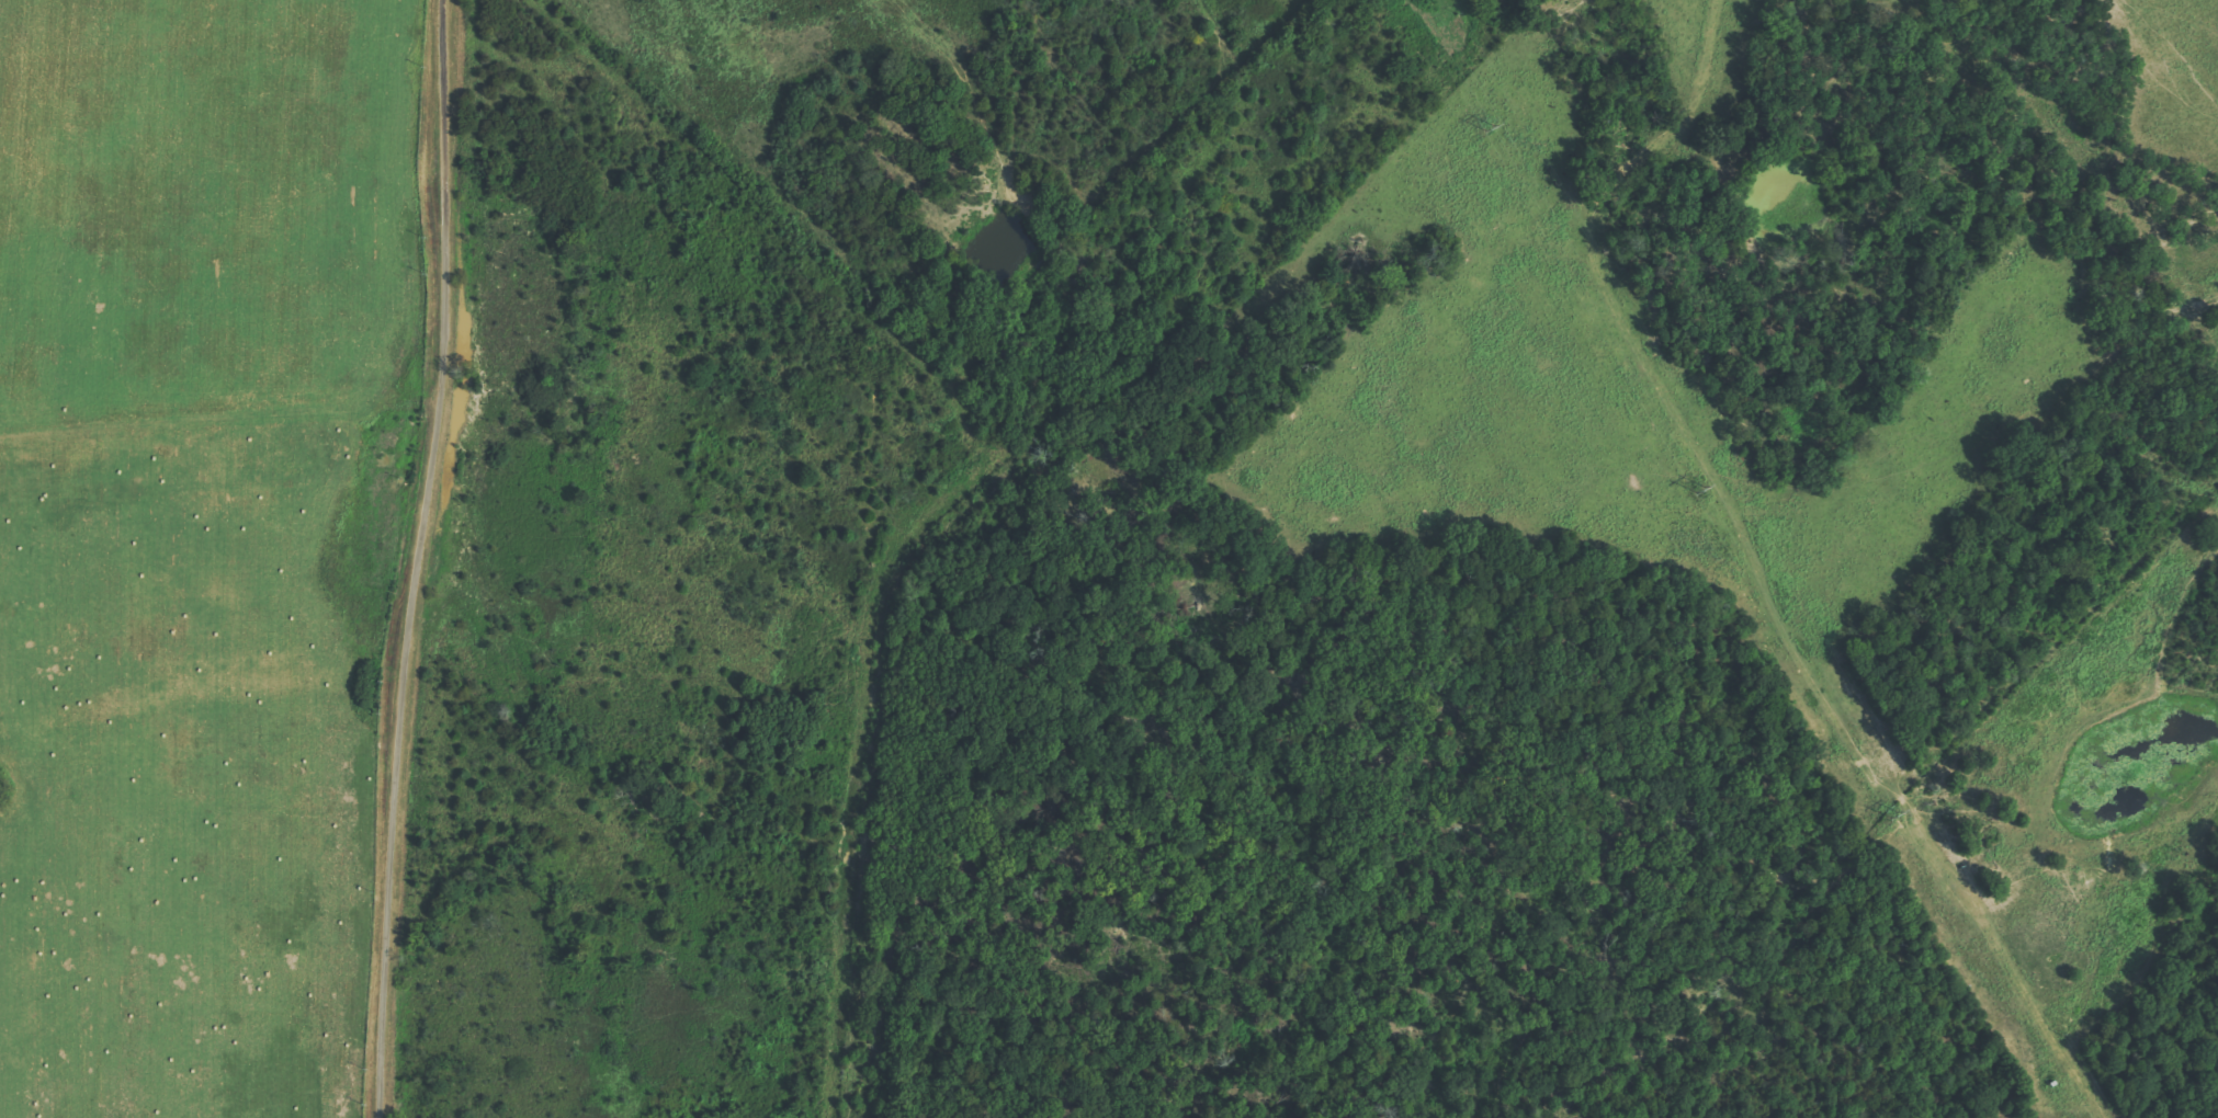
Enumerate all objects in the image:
road: (420, 558)

